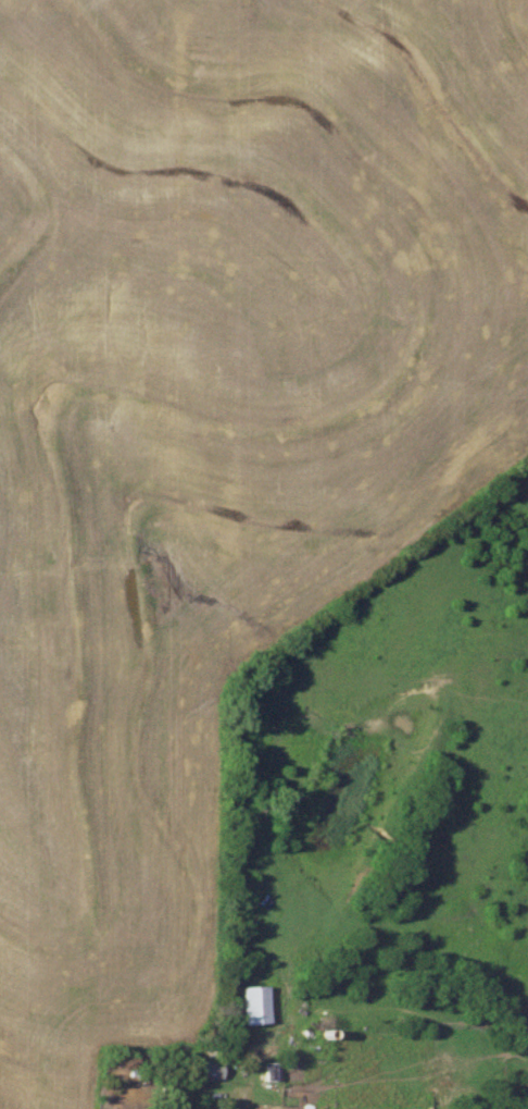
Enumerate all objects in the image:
building: (252, 1006)
building: (210, 1071)
building: (268, 1073)
road: (239, 1101)

